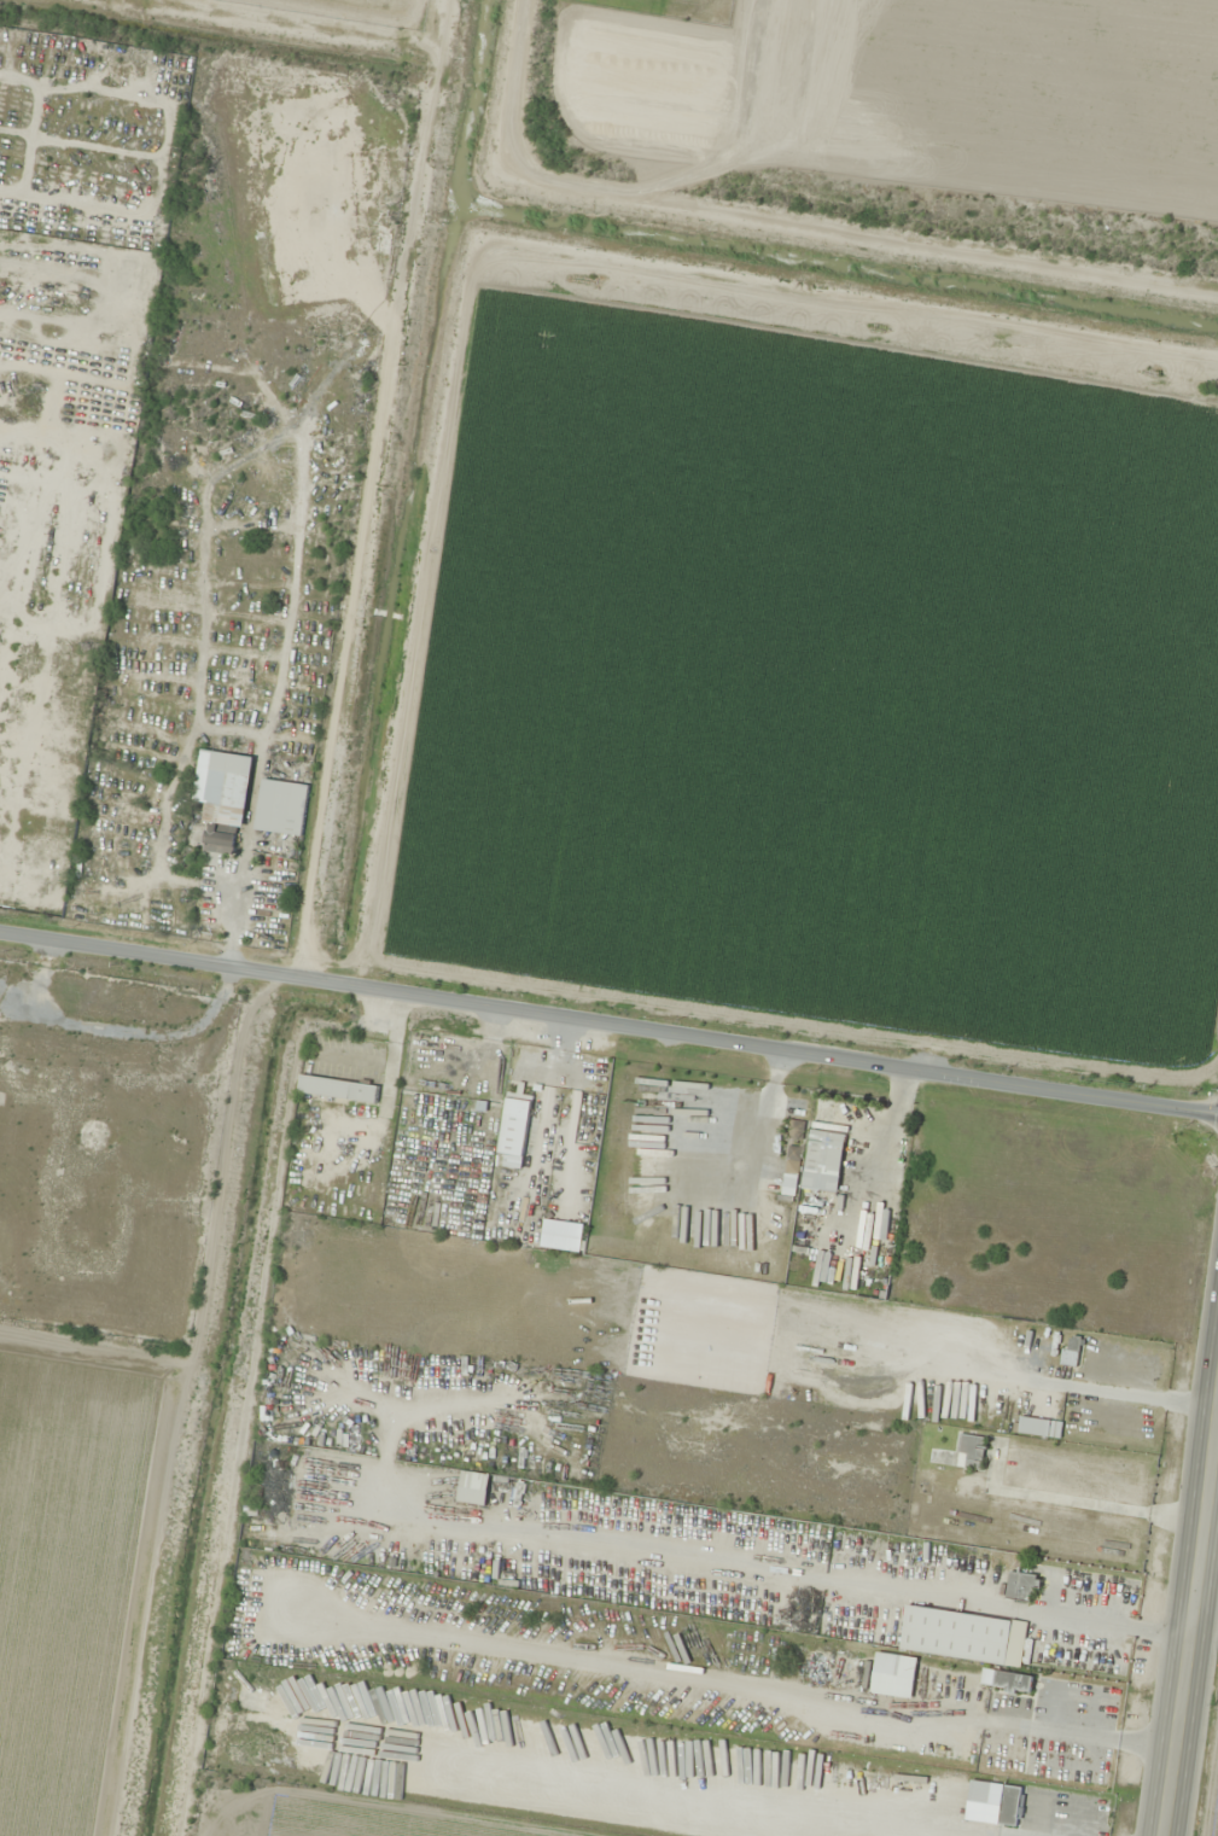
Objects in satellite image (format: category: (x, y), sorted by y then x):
building: (223, 799)
building: (282, 806)
road: (608, 1037)
building: (338, 1089)
building: (514, 1124)
building: (796, 1130)
building: (824, 1161)
building: (791, 1173)
building: (873, 1282)
building: (1071, 1351)
building: (973, 1450)
building: (473, 1488)
building: (1021, 1587)
road: (1184, 1610)
building: (963, 1637)
building: (893, 1675)
building: (1006, 1680)
building: (245, 1701)
building: (977, 1791)
building: (1010, 1806)

